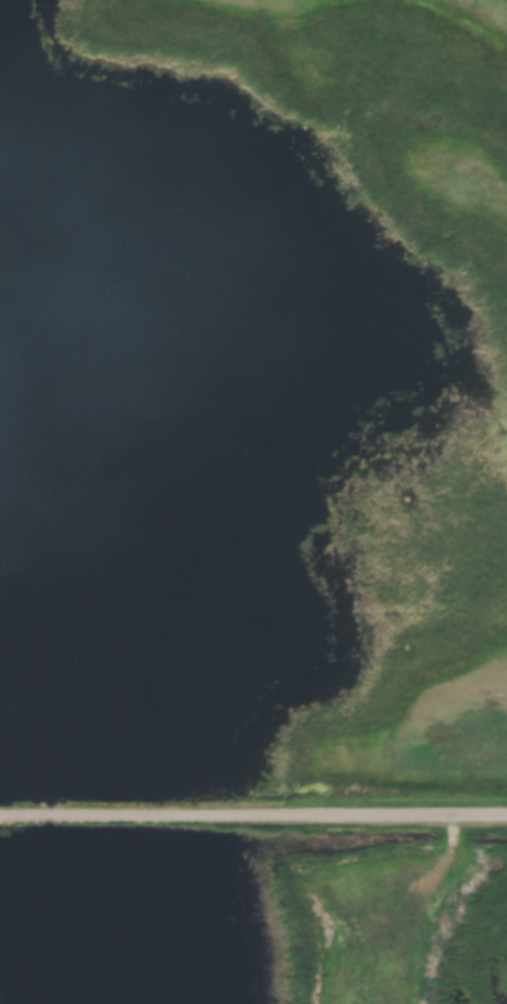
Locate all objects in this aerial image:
road: (253, 816)

